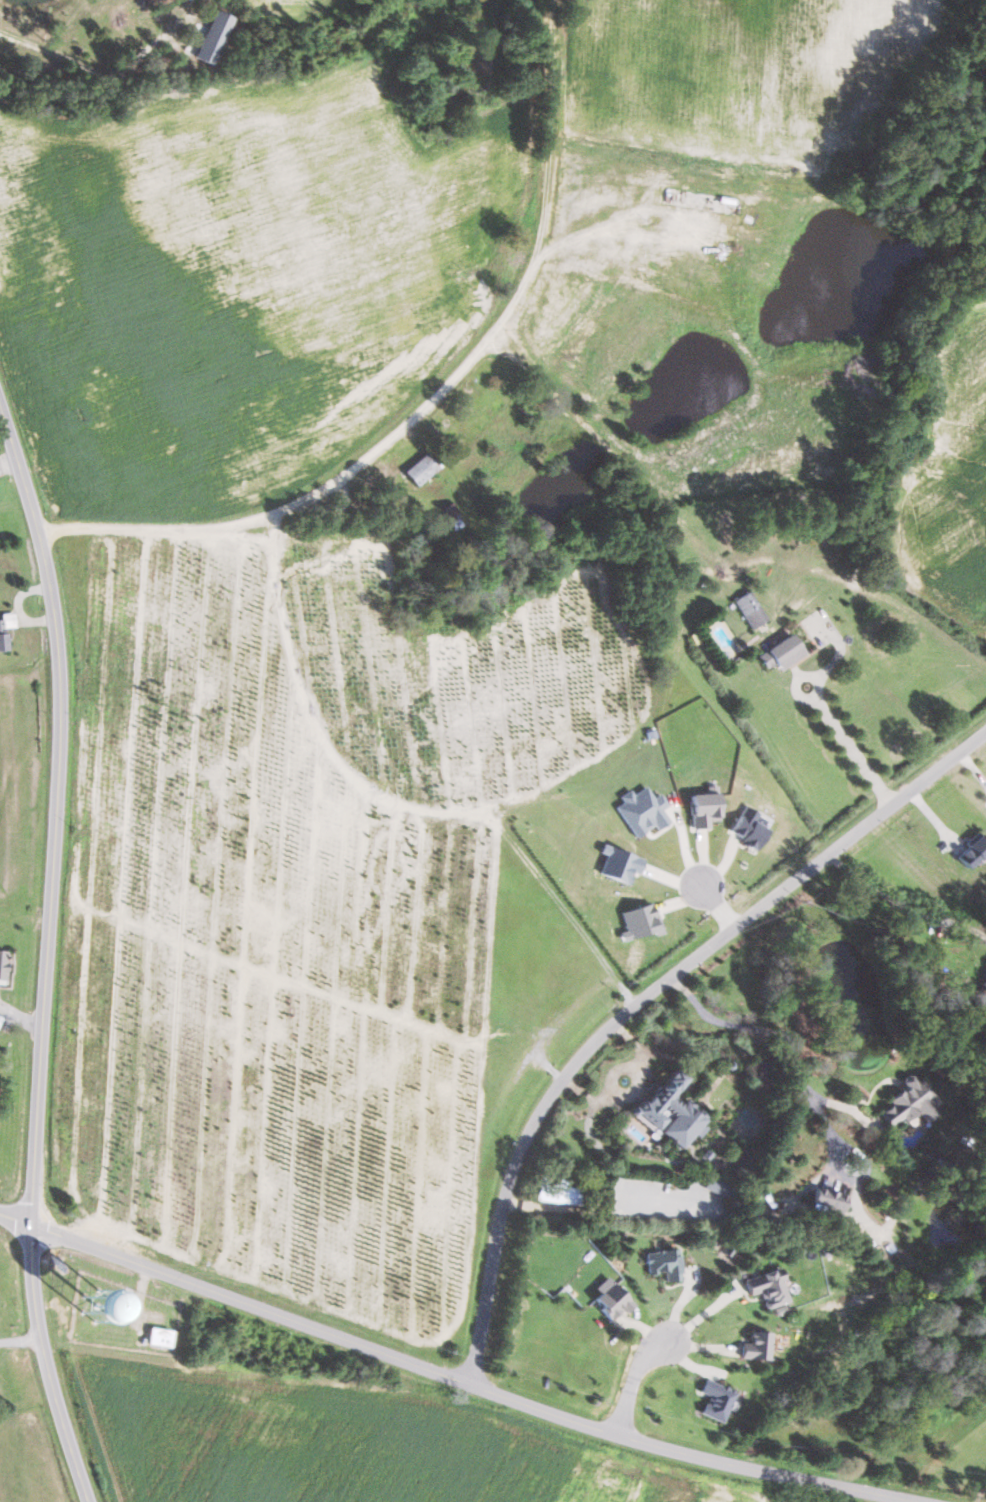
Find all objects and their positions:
building: (215, 37)
road: (94, 70)
road: (428, 397)
building: (422, 469)
road: (708, 552)
building: (751, 609)
building: (784, 651)
road: (852, 743)
building: (975, 851)
road: (902, 903)
road: (723, 907)
road: (42, 961)
building: (3, 965)
road: (645, 1006)
road: (807, 1086)
building: (912, 1103)
building: (559, 1193)
building: (831, 1198)
building: (666, 1263)
building: (771, 1287)
building: (614, 1300)
building: (98, 1305)
building: (161, 1336)
road: (18, 1344)
building: (760, 1345)
road: (638, 1372)
road: (446, 1380)
building: (719, 1400)
airport runway: (975, 1446)

